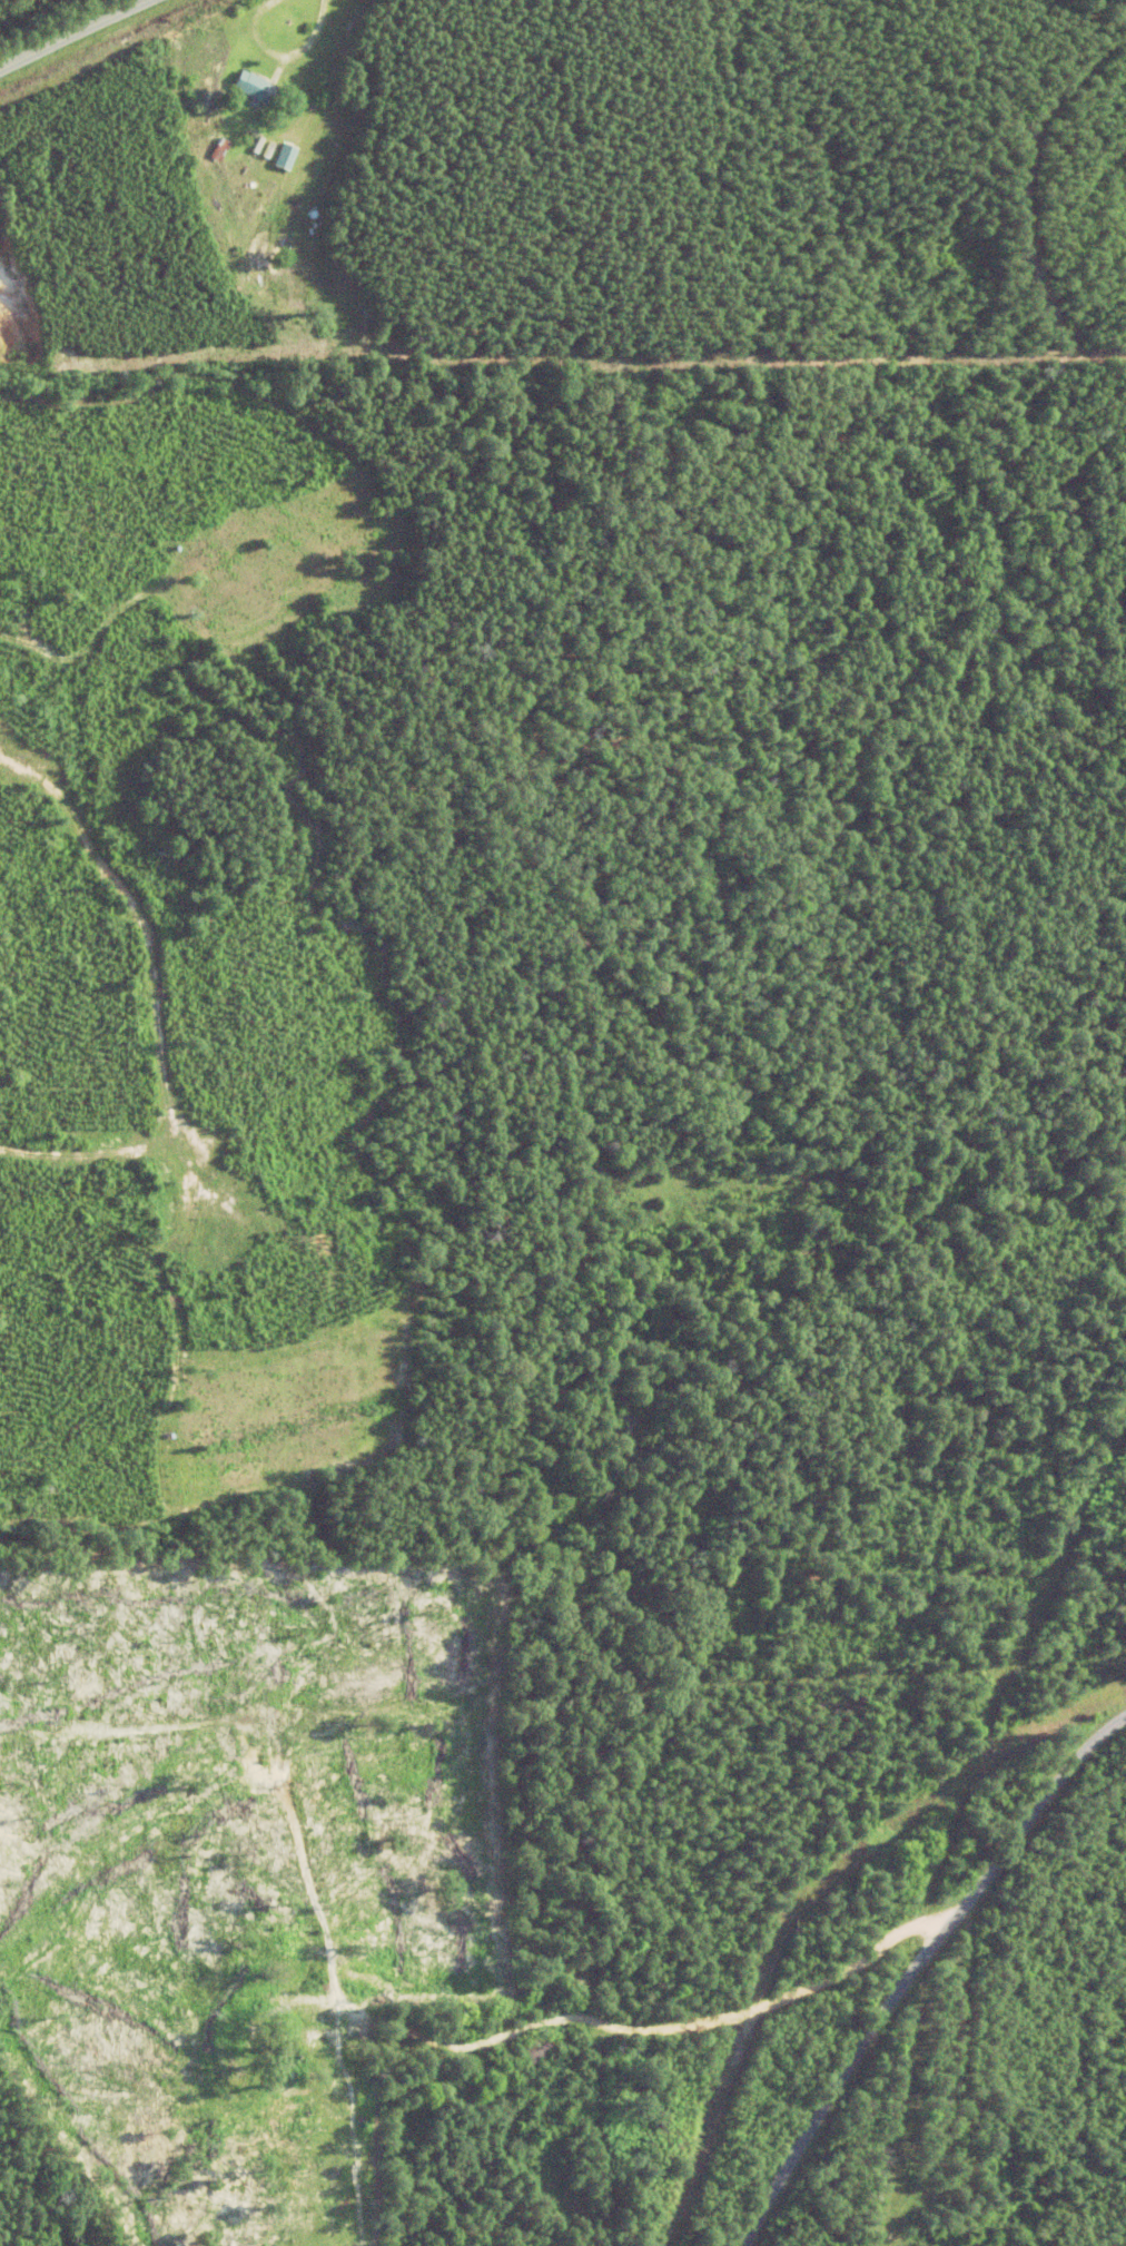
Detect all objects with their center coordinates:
road: (71, 33)
building: (243, 87)
road: (913, 1956)
building: (532, 2053)
building: (276, 2059)
road: (725, 2070)

